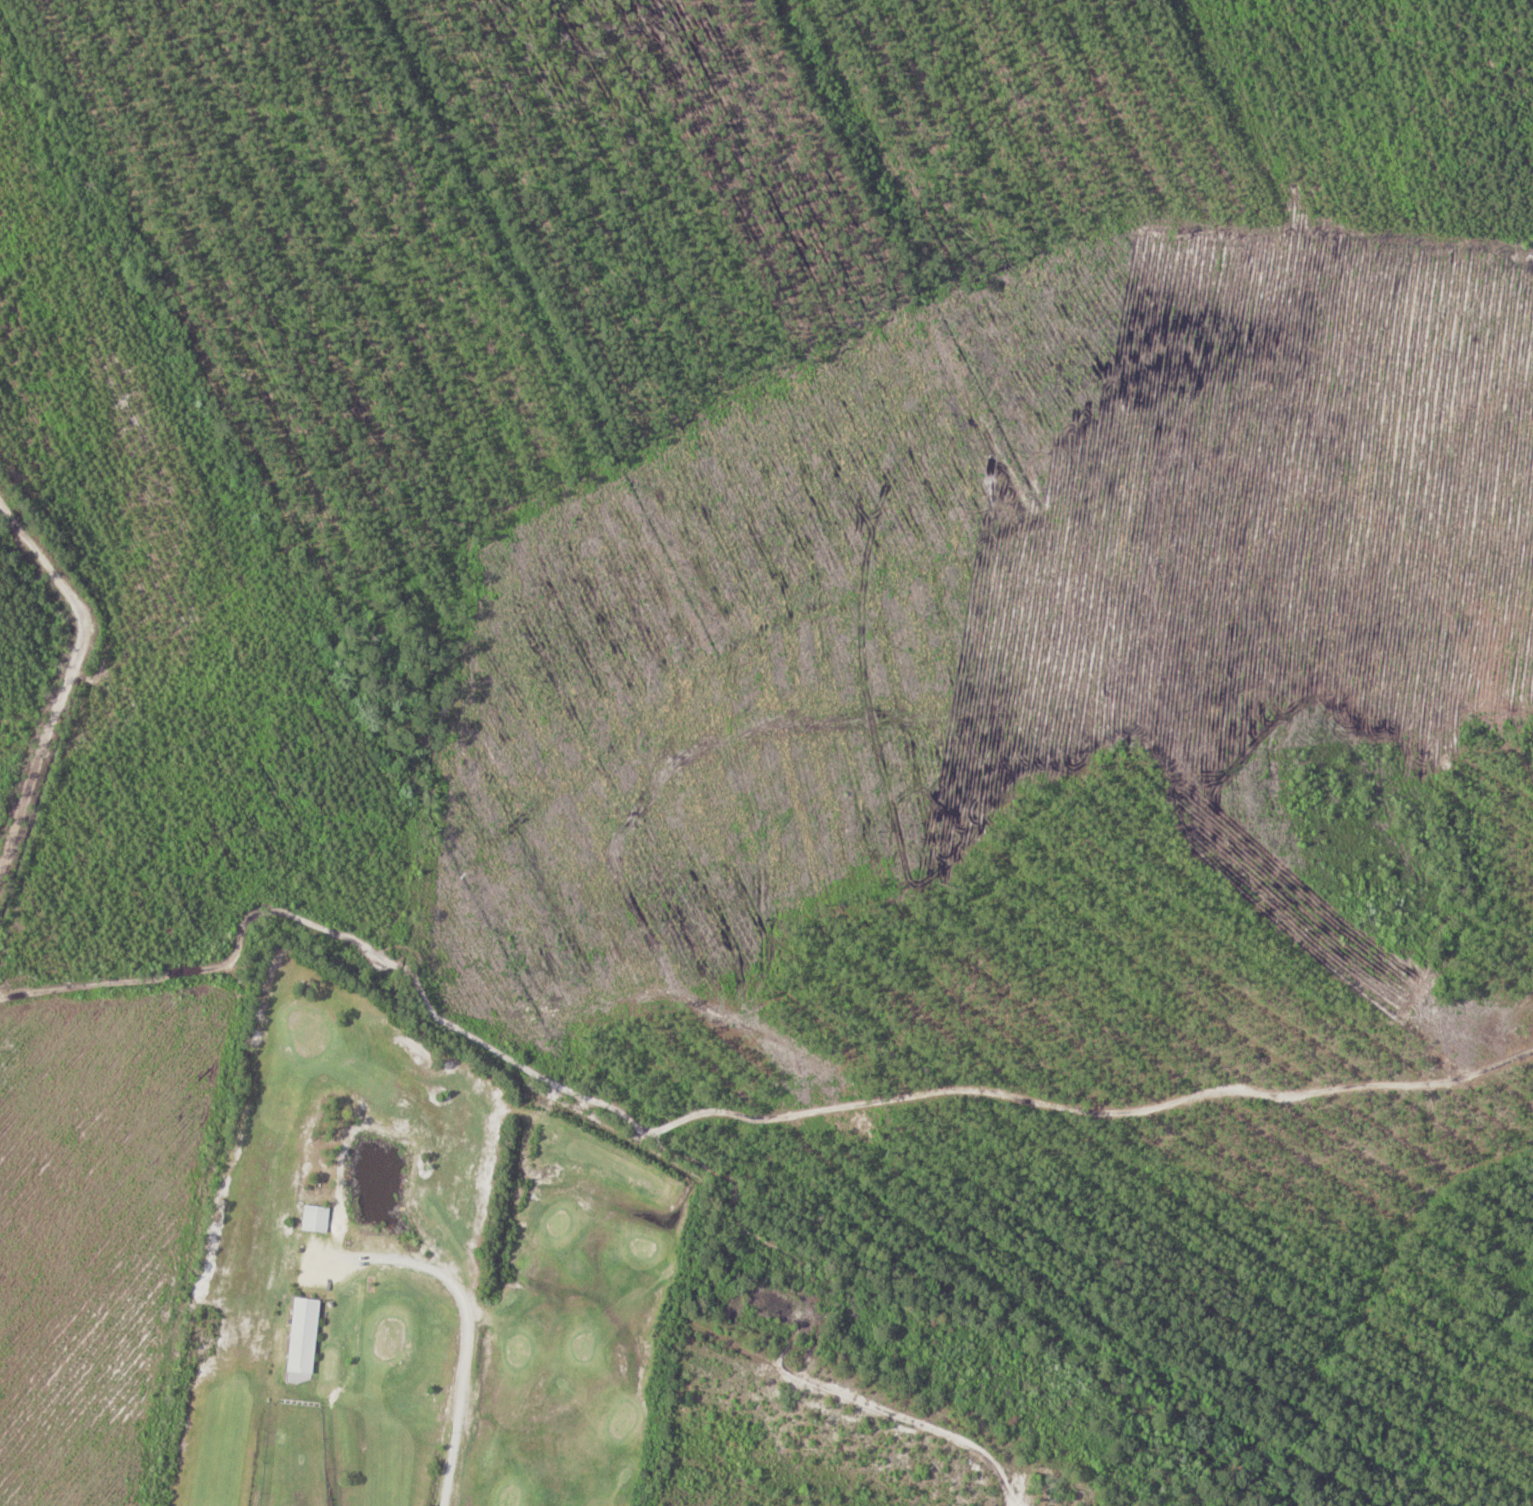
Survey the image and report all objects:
road: (58, 676)
road: (718, 1115)
building: (317, 1219)
road: (474, 1317)
building: (305, 1337)

